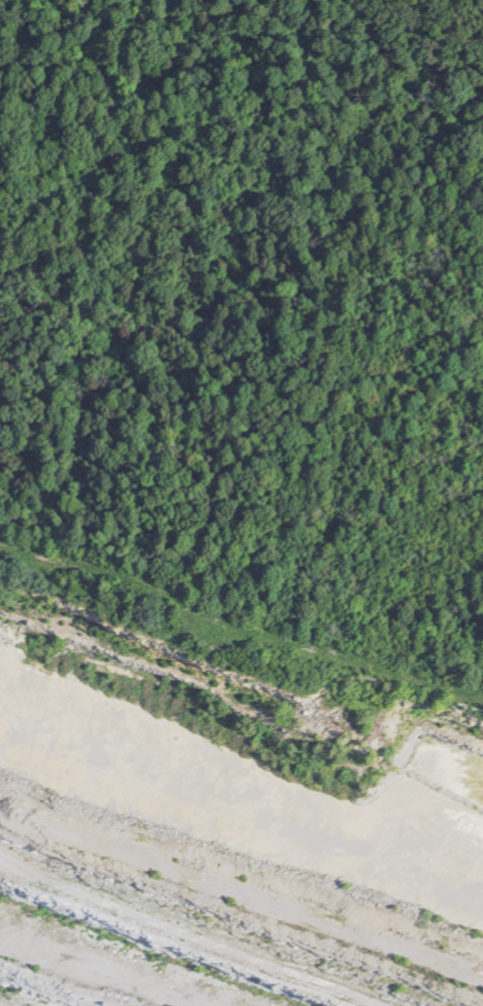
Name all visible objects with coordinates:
road: (239, 621)
quarry: (218, 832)

